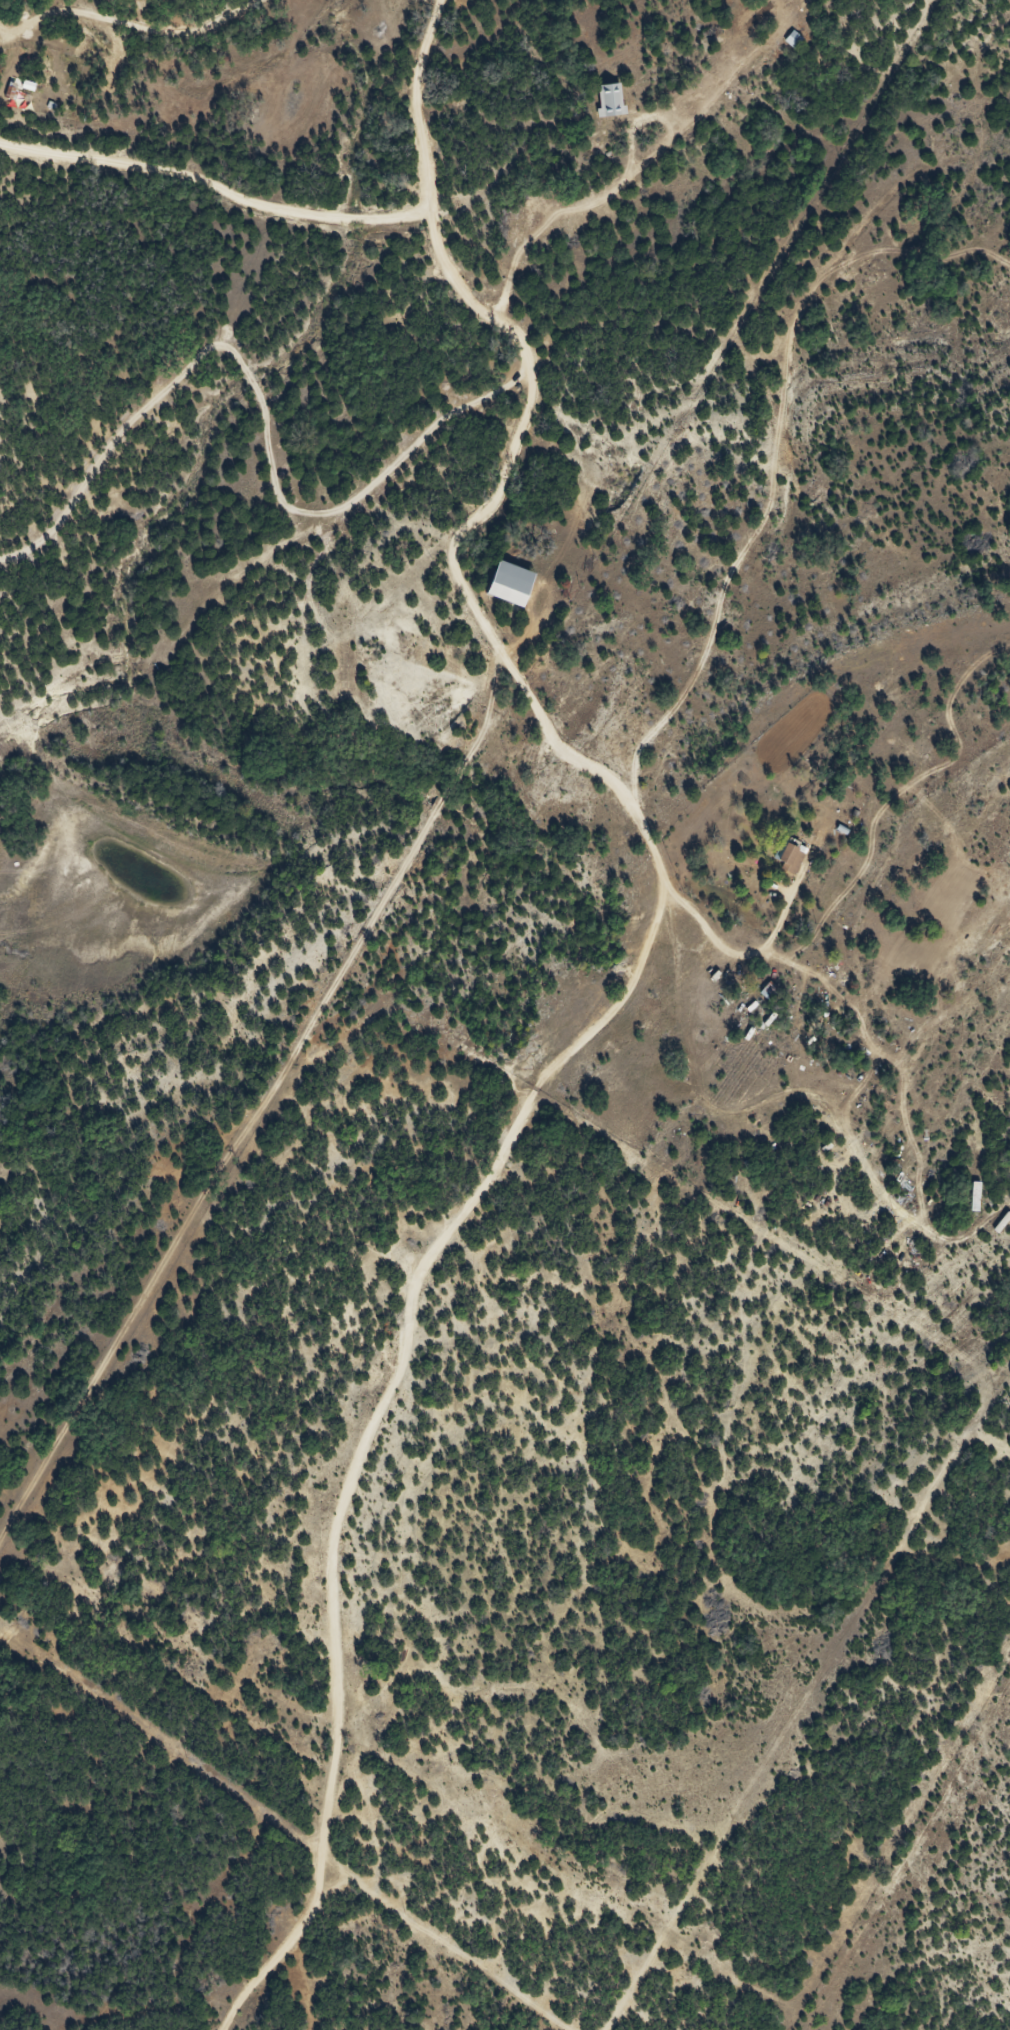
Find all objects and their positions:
building: (748, 25)
building: (785, 46)
building: (602, 106)
road: (212, 188)
road: (522, 410)
building: (503, 590)
building: (778, 860)
road: (620, 1014)
building: (966, 1203)

